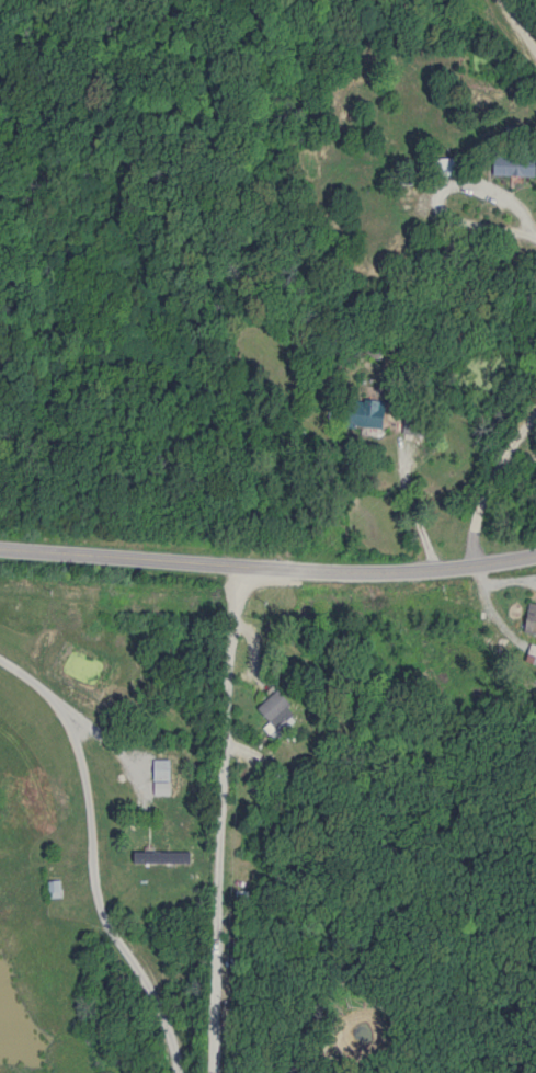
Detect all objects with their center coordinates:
road: (517, 28)
building: (515, 164)
building: (368, 414)
building: (414, 426)
road: (487, 479)
road: (267, 568)
building: (531, 619)
building: (529, 655)
building: (277, 708)
building: (162, 770)
road: (218, 819)
road: (90, 860)
building: (55, 890)

